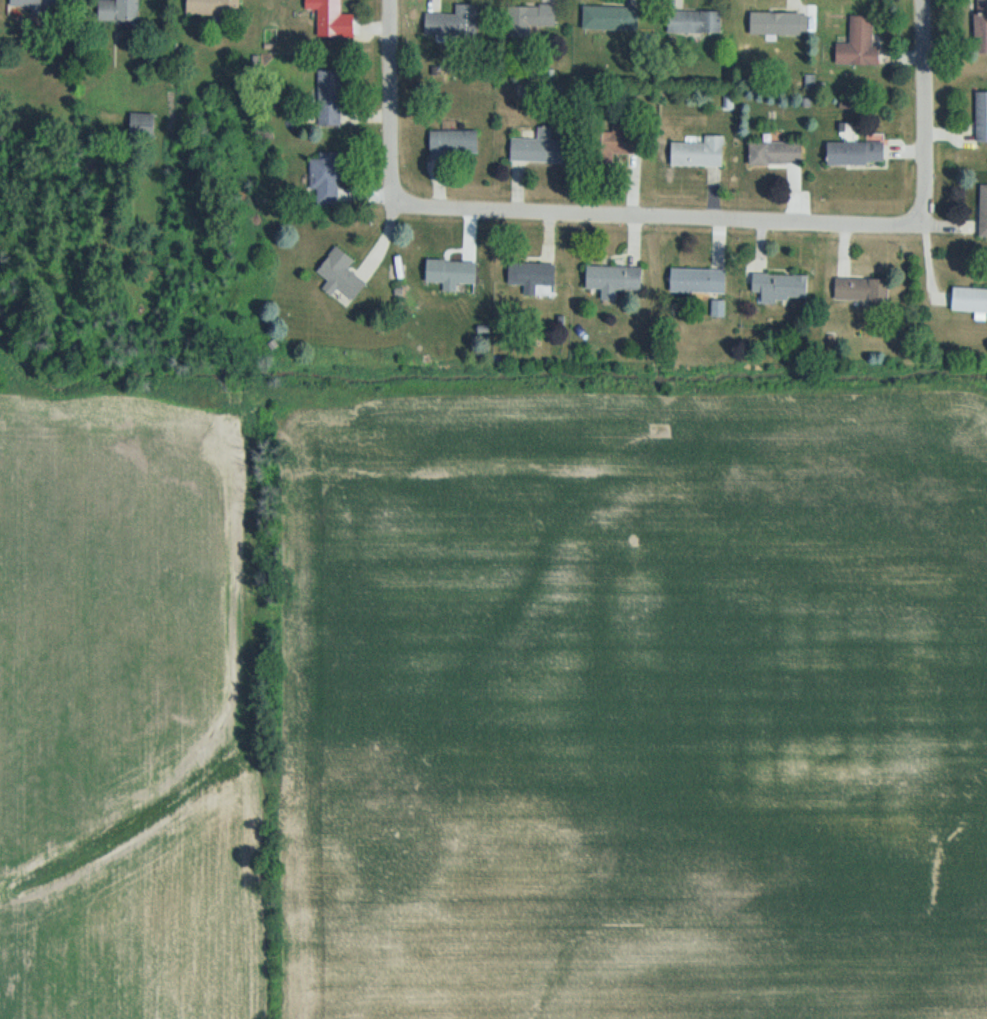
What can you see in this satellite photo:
building: (56, 4)
building: (434, 4)
building: (27, 6)
building: (215, 7)
building: (121, 10)
building: (333, 18)
building: (613, 18)
building: (530, 19)
building: (453, 22)
building: (696, 22)
building: (779, 24)
building: (981, 26)
building: (860, 44)
building: (331, 97)
building: (982, 117)
road: (399, 119)
building: (143, 125)
road: (919, 138)
building: (455, 142)
building: (618, 145)
building: (540, 148)
building: (699, 153)
building: (776, 153)
building: (856, 153)
building: (326, 178)
building: (983, 211)
road: (654, 215)
building: (452, 271)
building: (341, 274)
building: (532, 275)
building: (615, 277)
building: (699, 280)
building: (782, 287)
building: (862, 289)
building: (969, 300)
crop: (492, 700)

